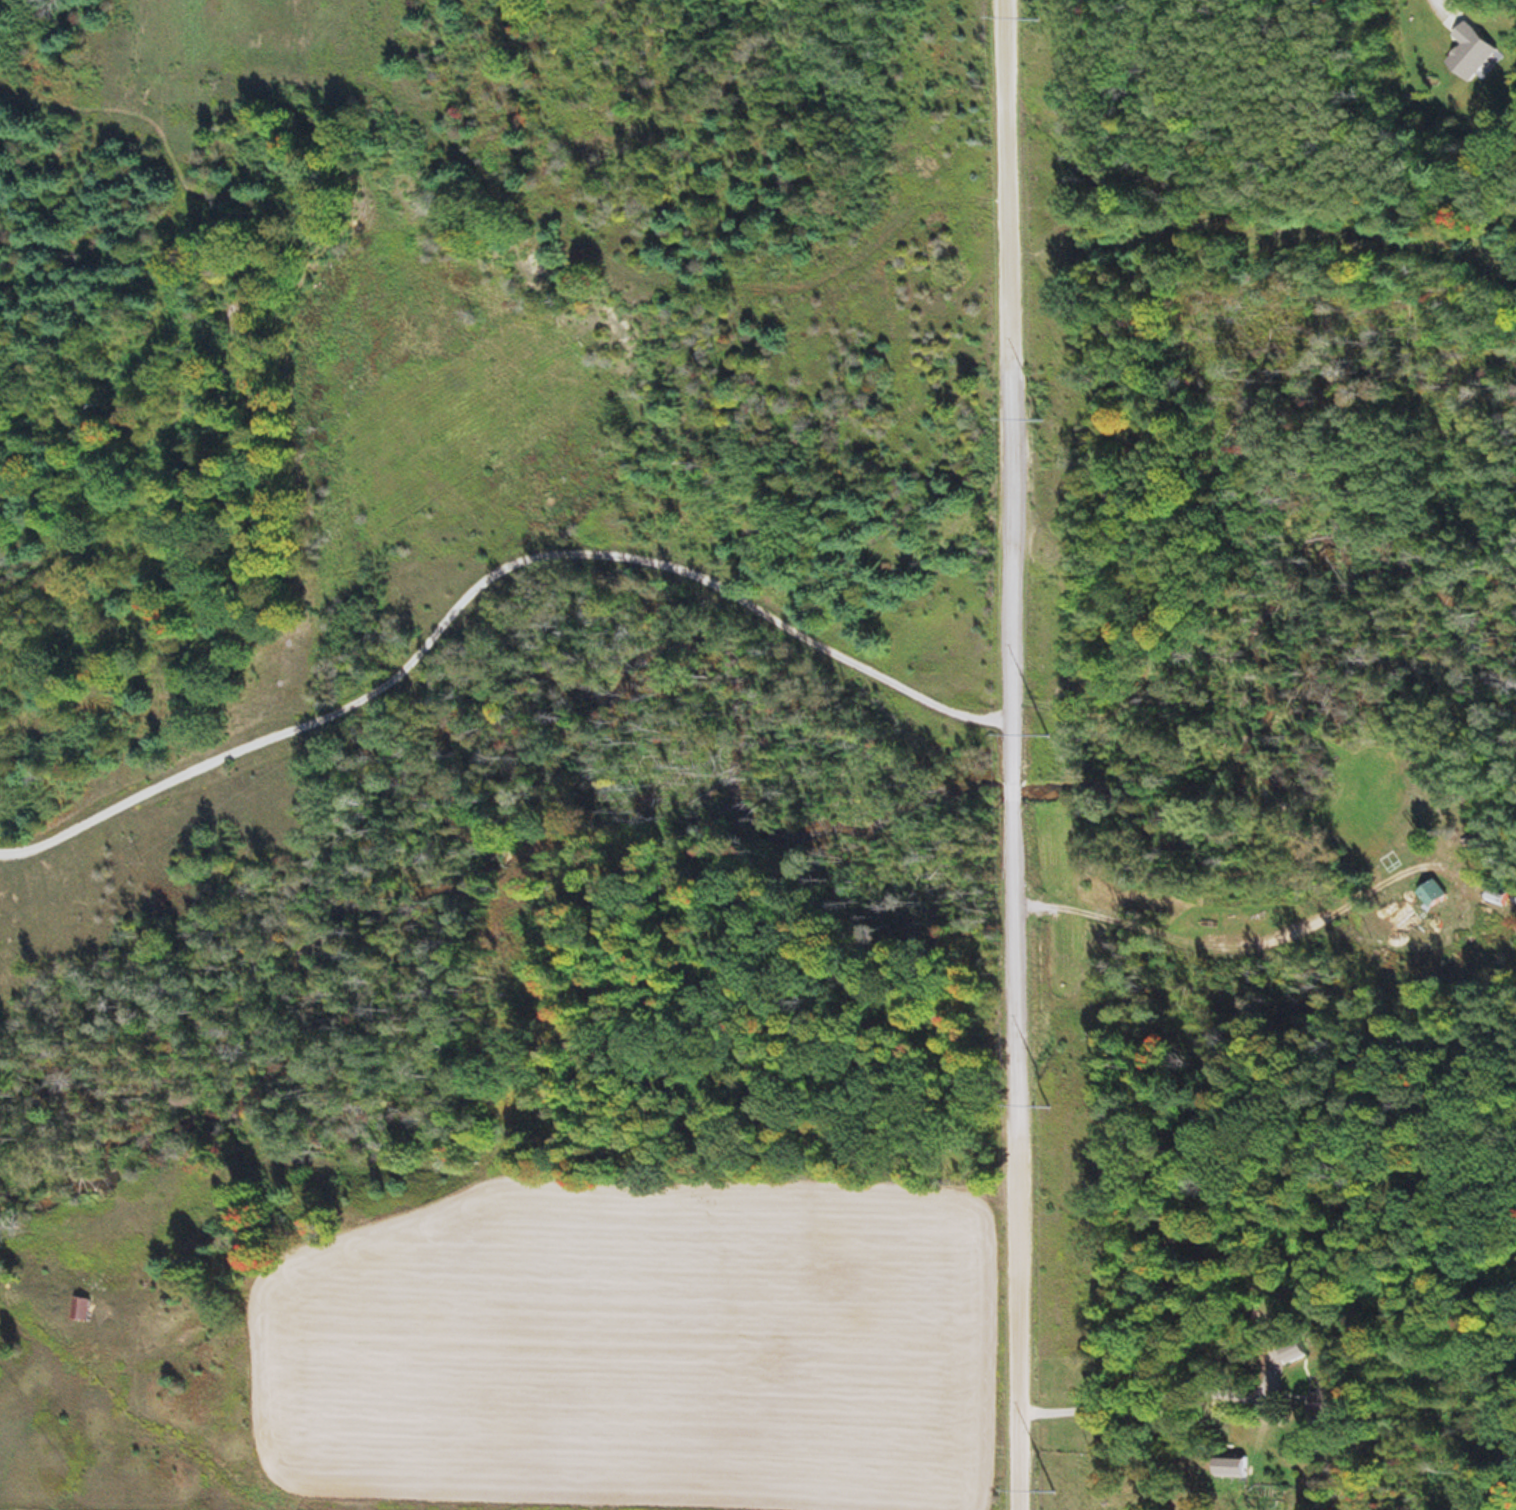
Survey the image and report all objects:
building: (1467, 51)
road: (1002, 754)
building: (1493, 894)
road: (719, 1198)
building: (83, 1308)
building: (1285, 1352)
building: (1319, 1404)
building: (1227, 1465)

